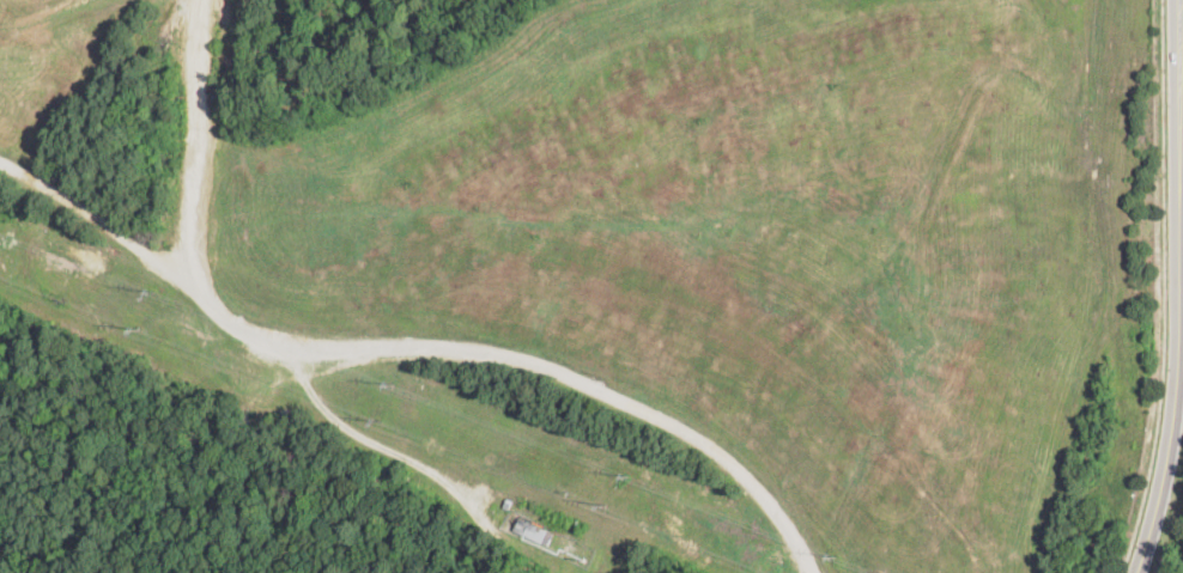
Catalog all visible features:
road: (109, 220)
landfill: (574, 285)
road: (1163, 288)
road: (1177, 288)
road: (399, 341)
road: (378, 441)
building: (508, 500)
building: (534, 531)
landfill: (1182, 571)

